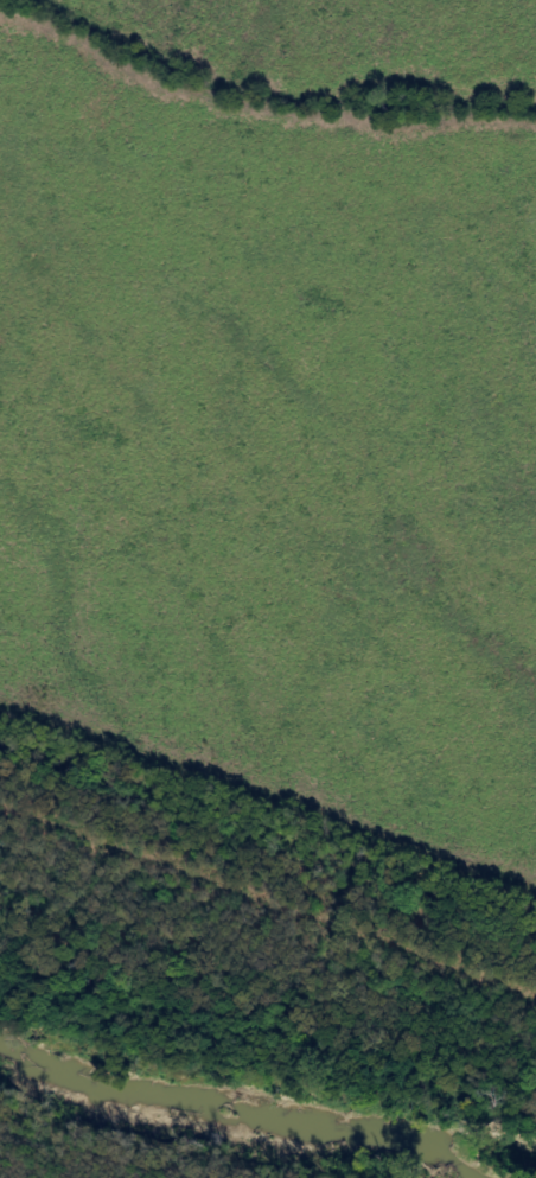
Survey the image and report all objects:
road: (266, 108)

